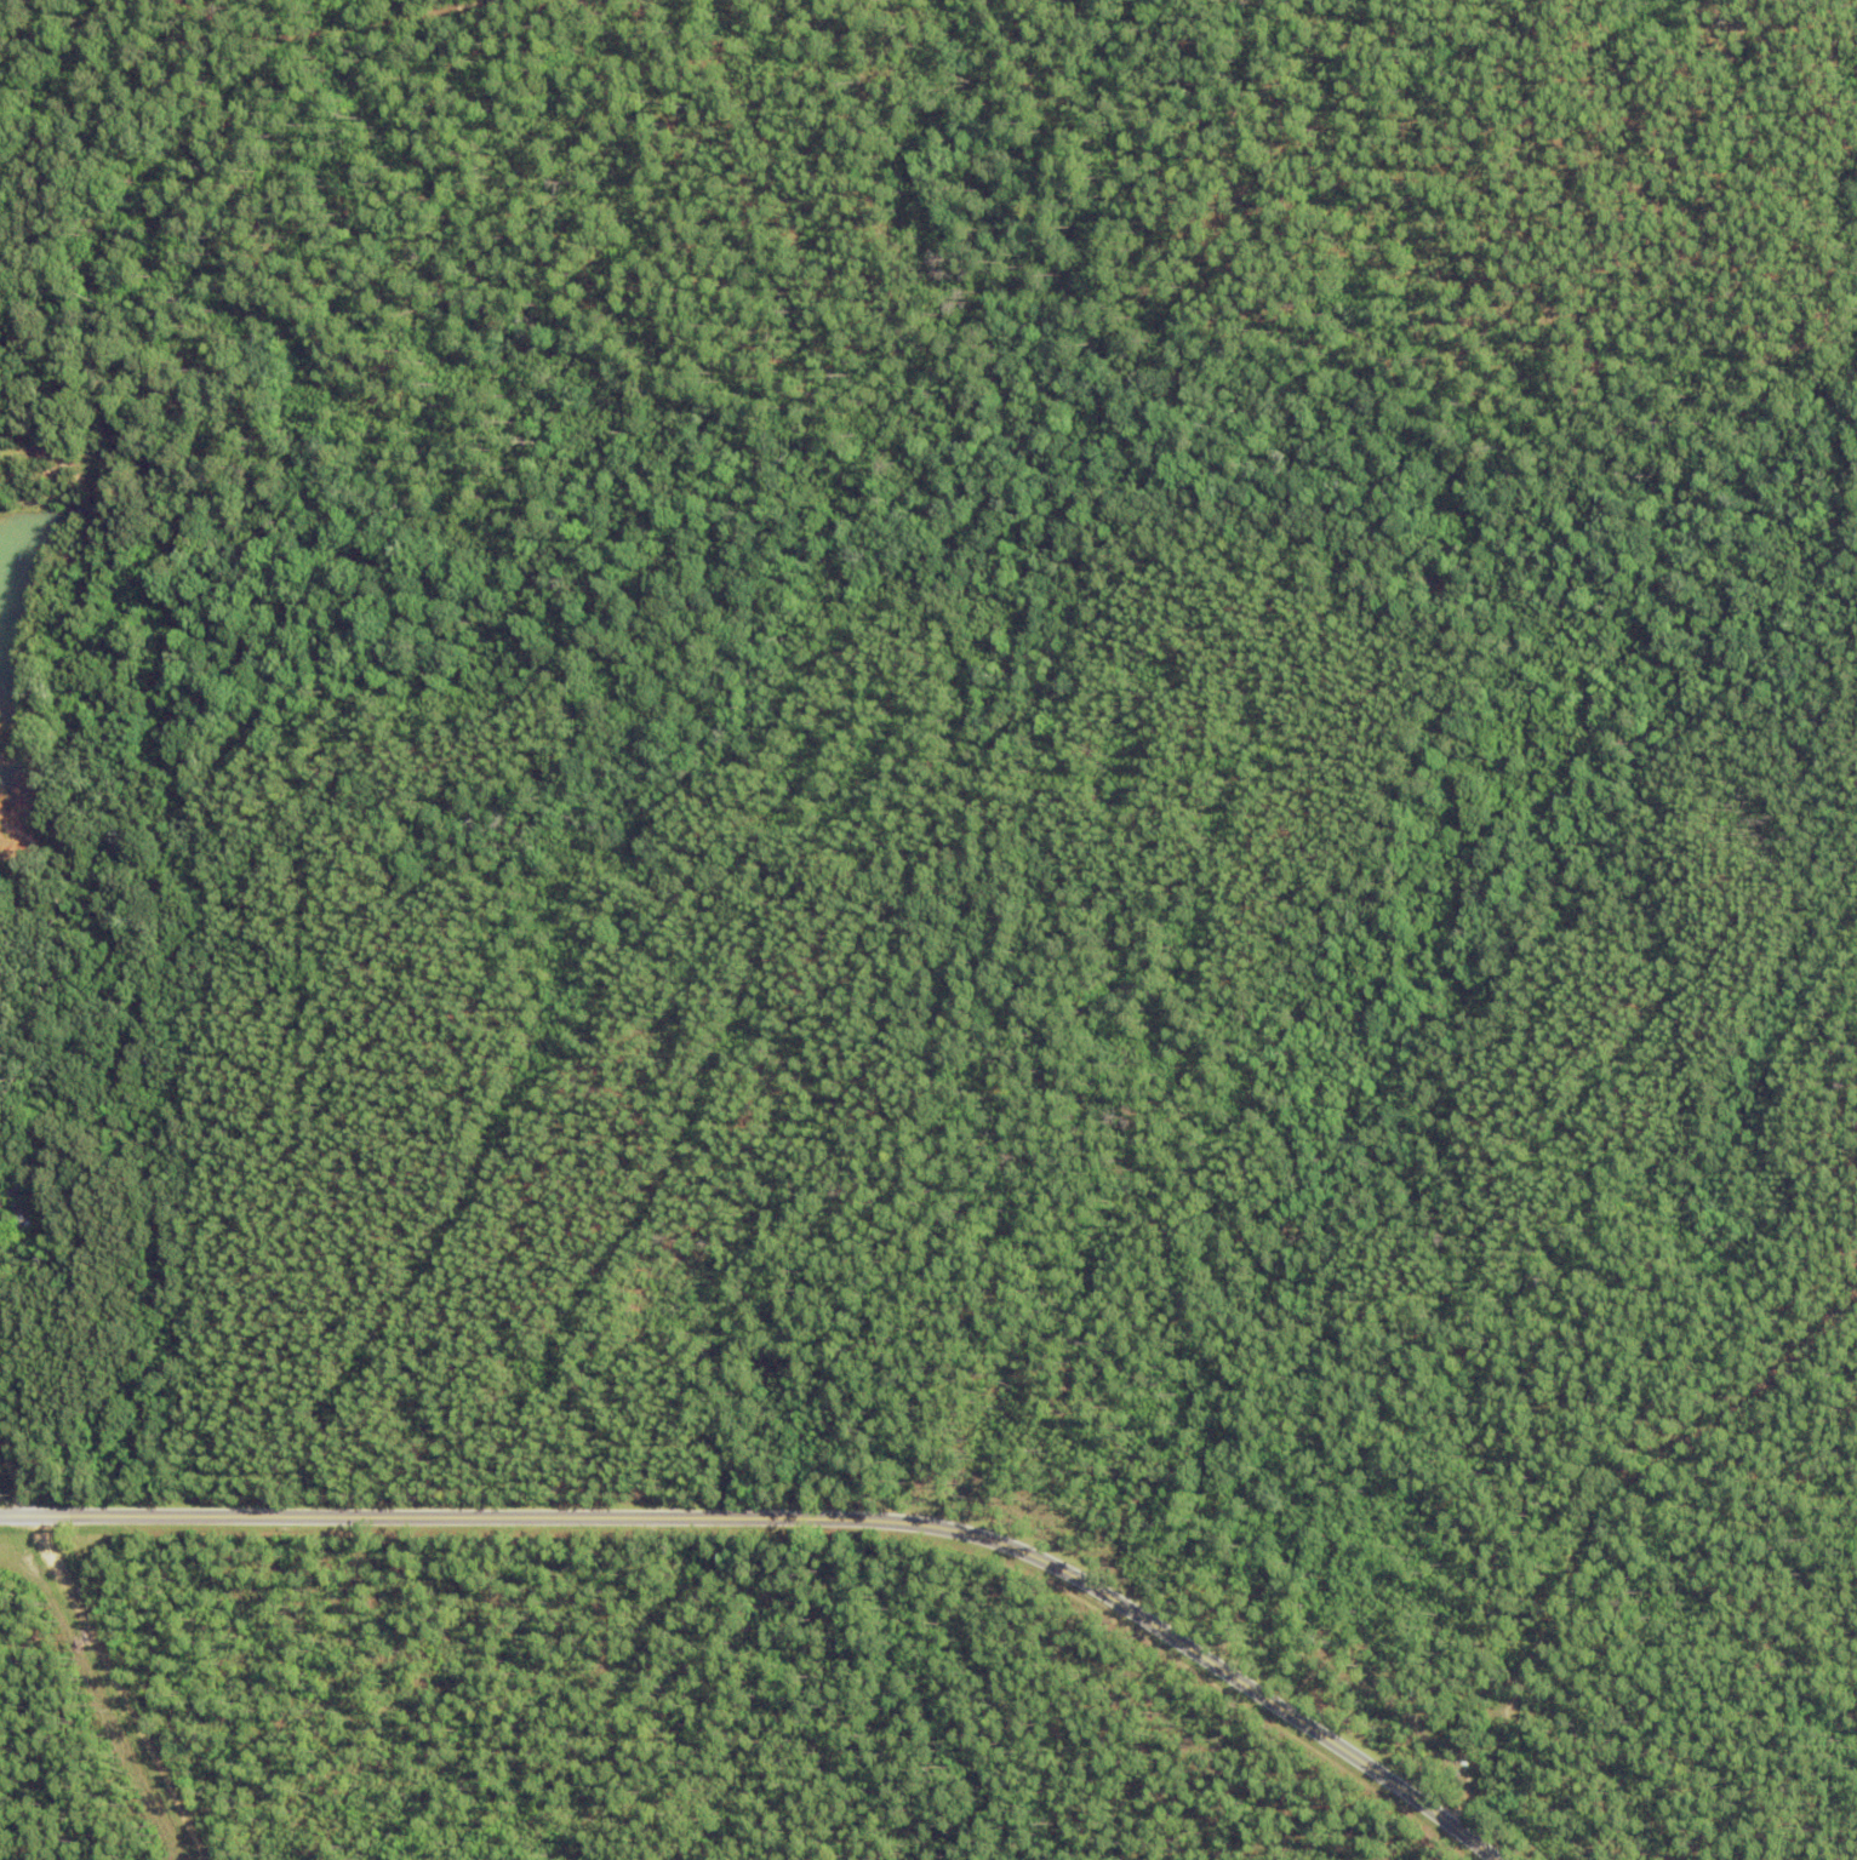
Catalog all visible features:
road: (327, 29)
building: (122, 1063)
building: (64, 1197)
building: (21, 1208)
building: (72, 1212)
road: (13, 1473)
road: (1594, 1495)
road: (798, 1516)

